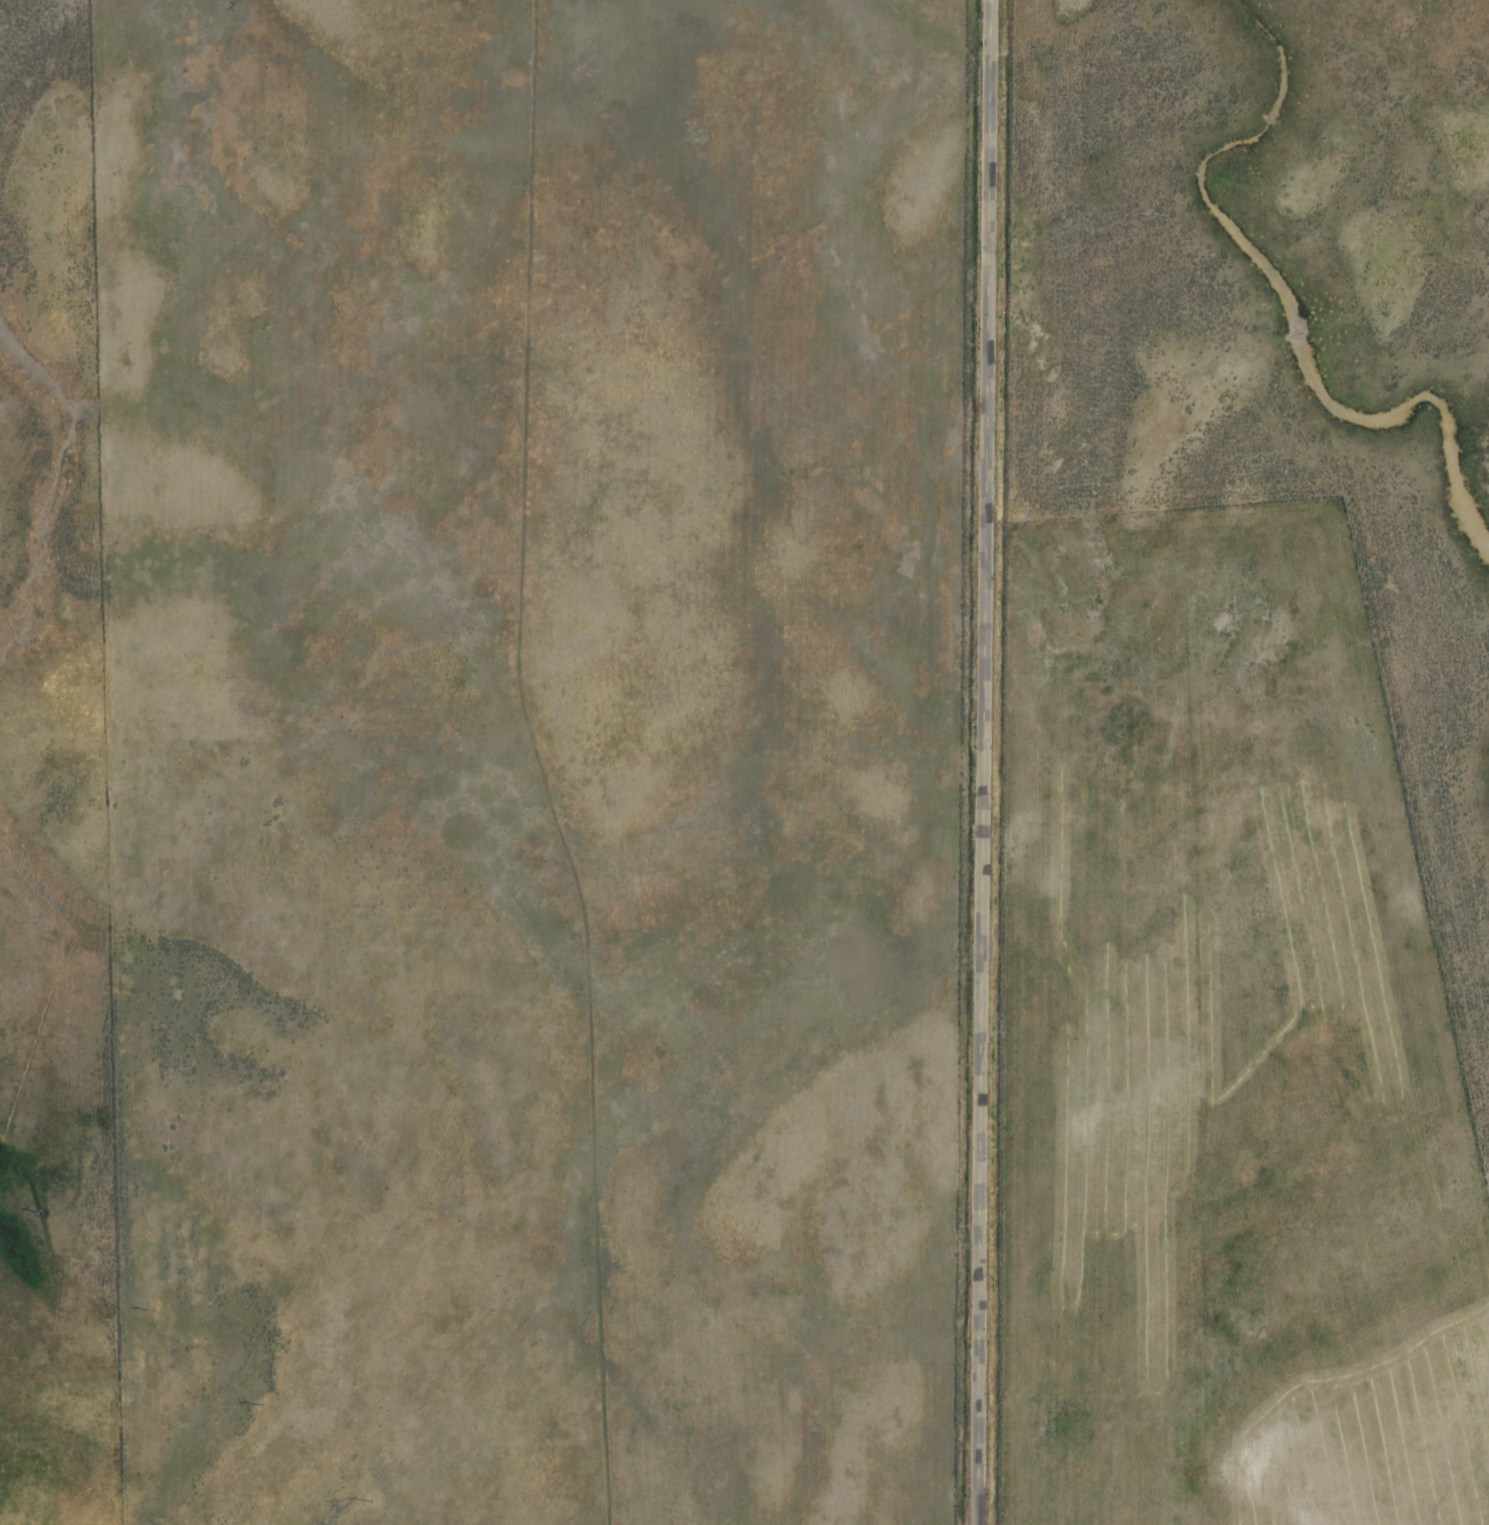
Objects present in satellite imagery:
crop: (31, 228)
road: (980, 762)
crop: (1217, 766)

